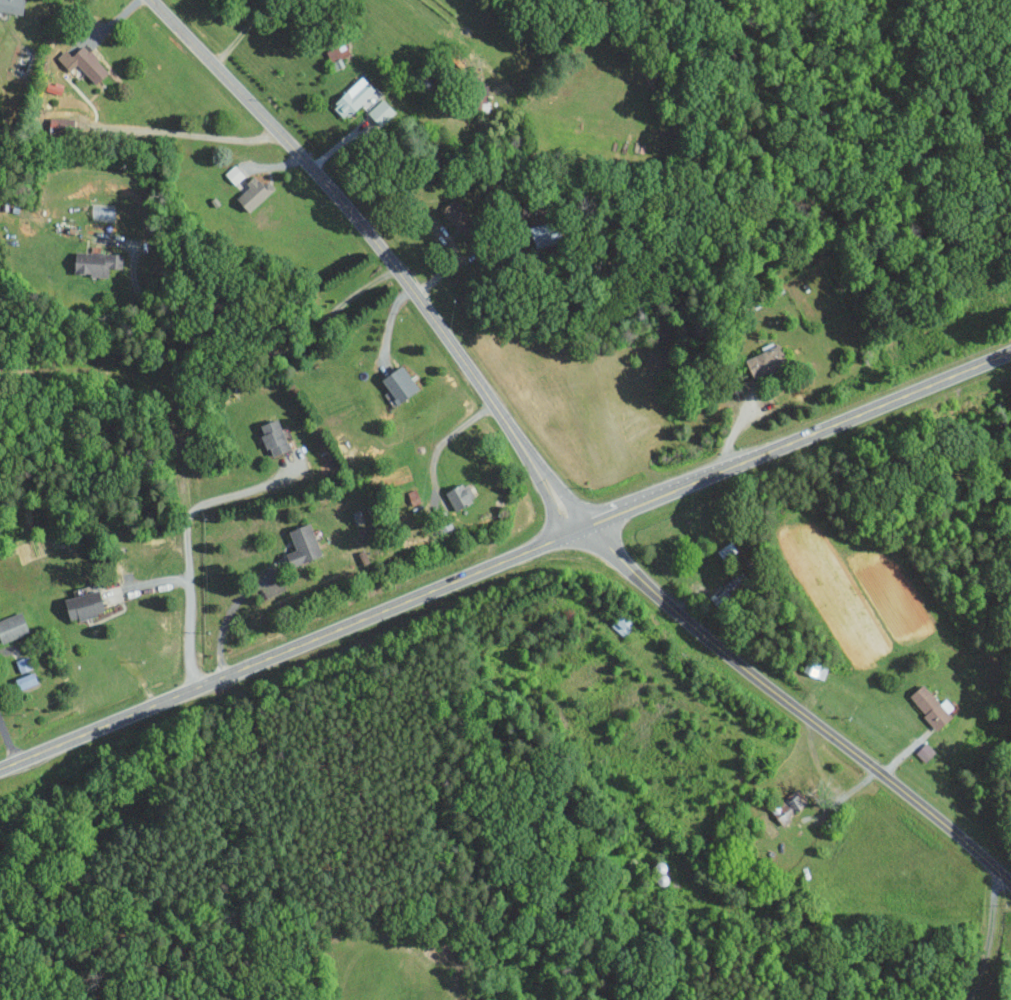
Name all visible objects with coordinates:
building: (11, 6)
building: (337, 52)
building: (88, 64)
building: (355, 98)
building: (380, 112)
building: (59, 127)
building: (253, 194)
building: (456, 214)
road: (435, 229)
building: (544, 232)
building: (94, 261)
road: (388, 327)
road: (239, 329)
building: (765, 360)
building: (398, 382)
building: (272, 435)
road: (448, 437)
road: (545, 478)
road: (240, 492)
building: (459, 494)
building: (301, 544)
road: (505, 559)
road: (189, 602)
building: (83, 604)
building: (621, 623)
building: (12, 626)
building: (814, 668)
building: (24, 679)
building: (929, 705)
road: (8, 742)
building: (924, 751)
building: (788, 806)
road: (987, 940)

